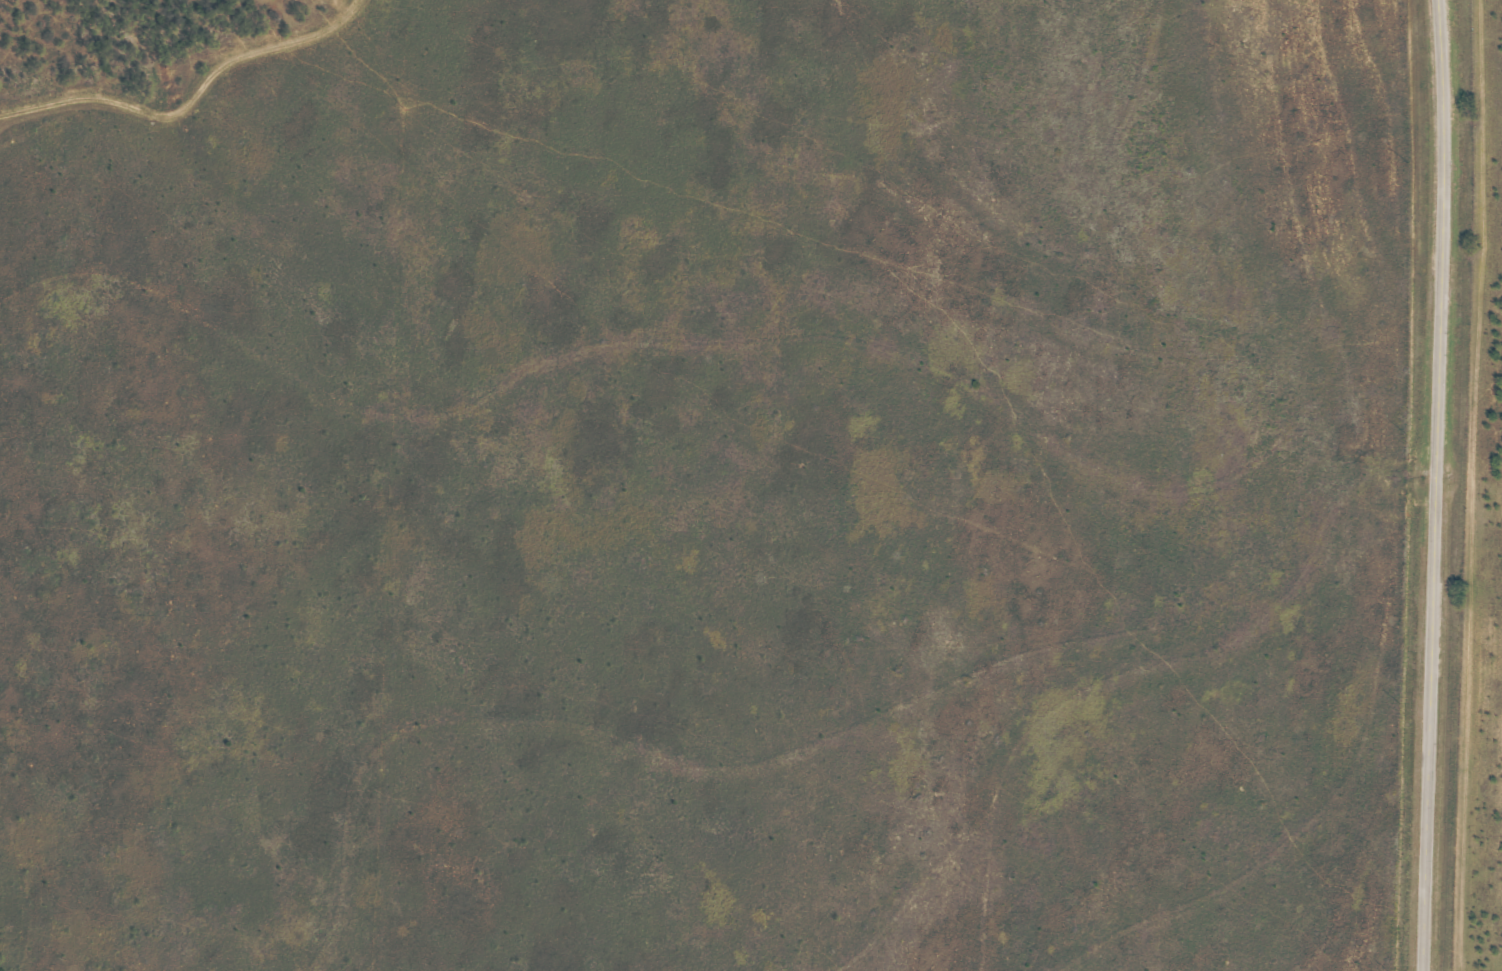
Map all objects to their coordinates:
road: (1436, 485)

